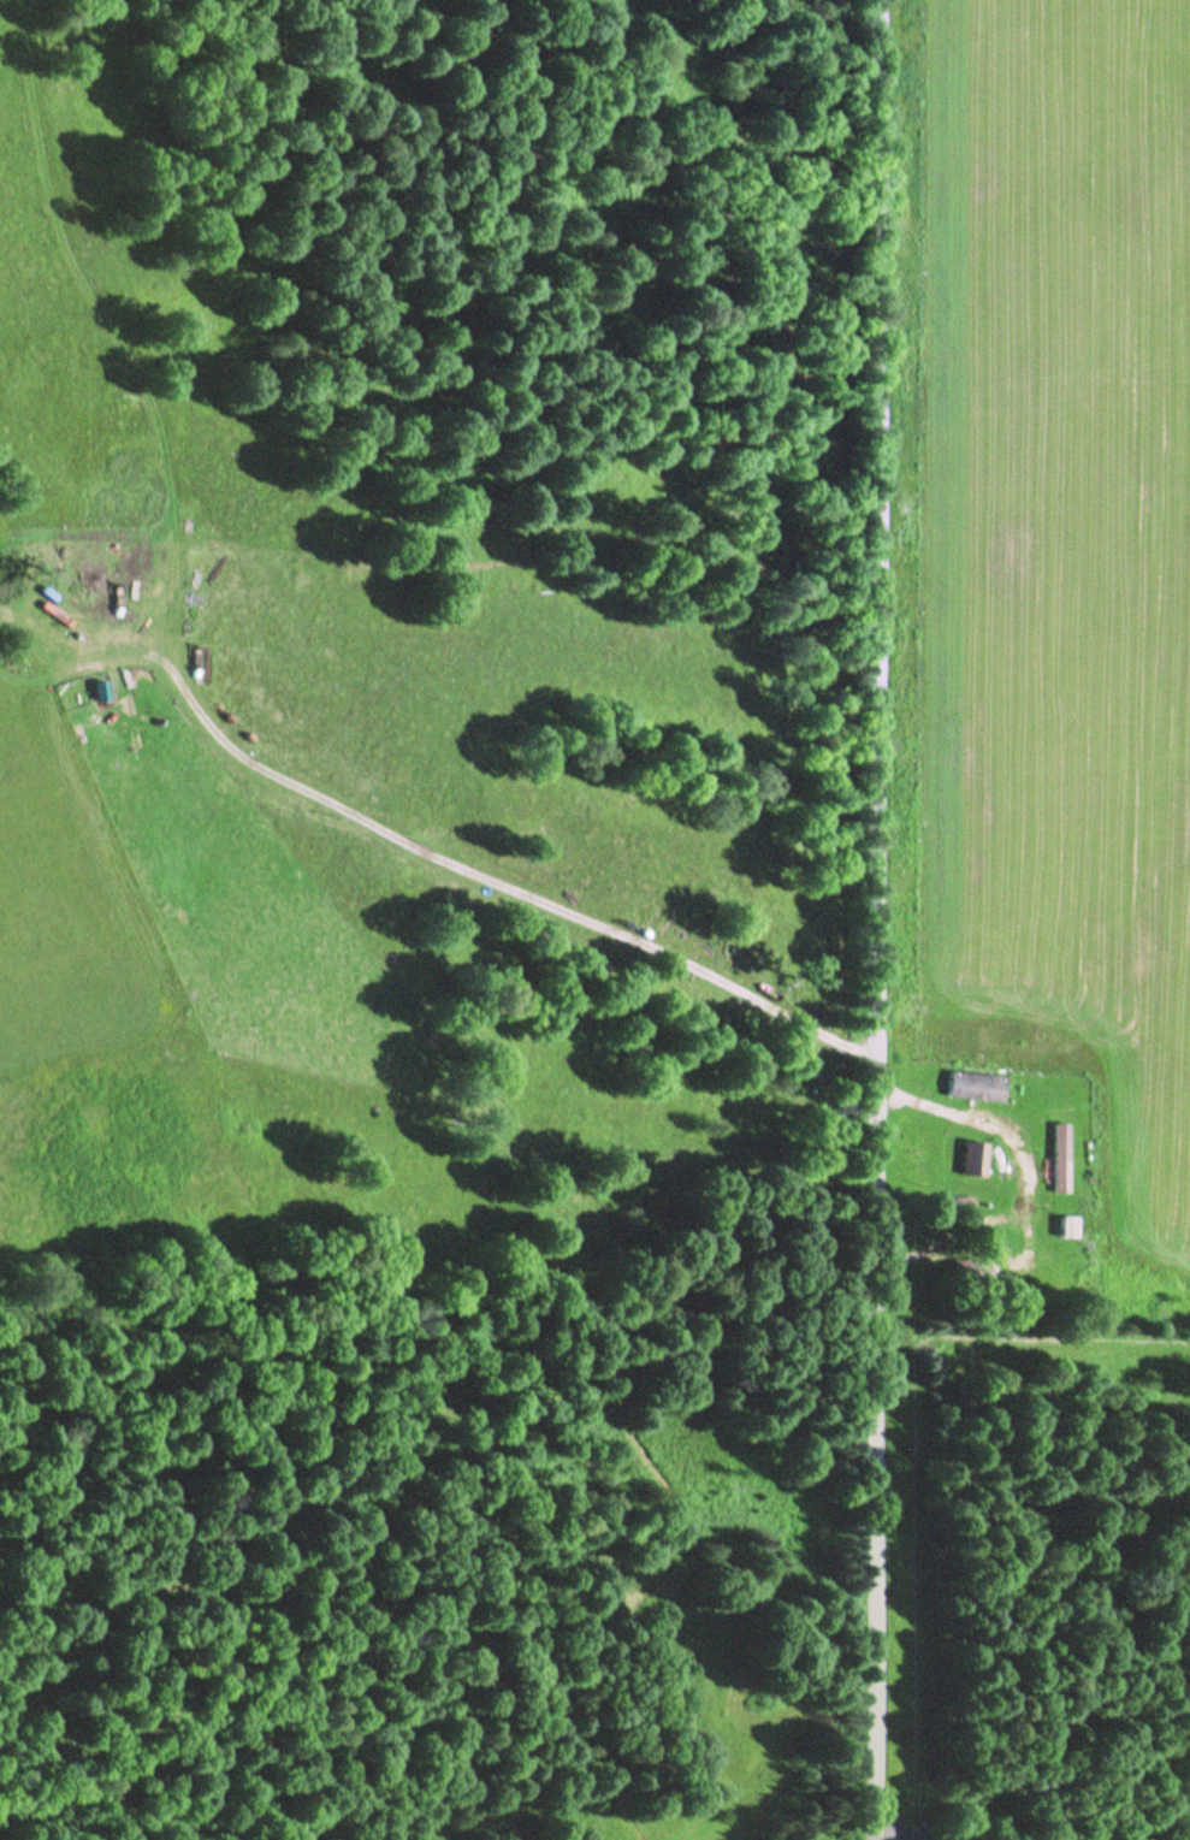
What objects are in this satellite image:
building: (97, 690)
road: (438, 858)
road: (894, 919)
building: (1060, 1156)
building: (973, 1159)
building: (1068, 1226)

